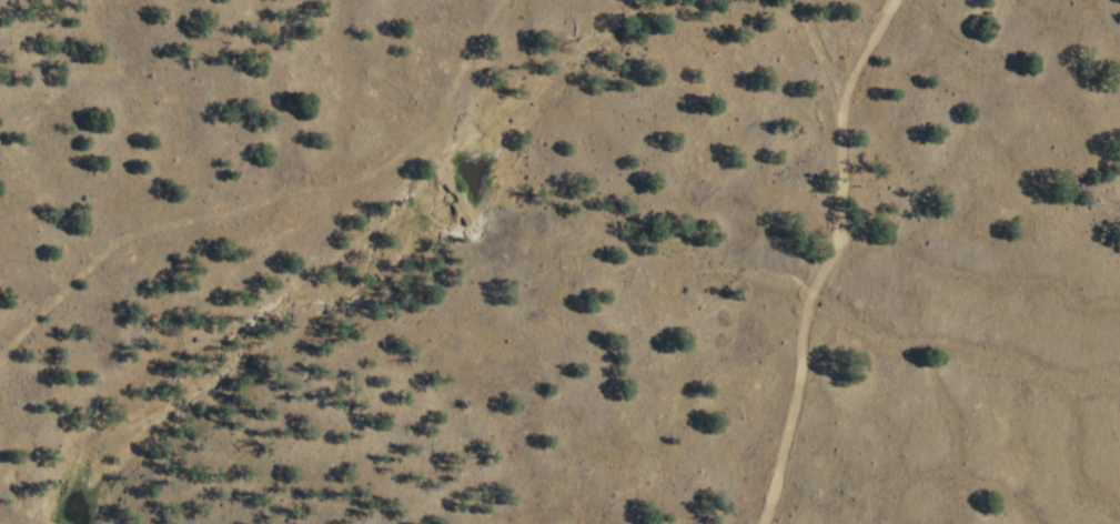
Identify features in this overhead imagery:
road: (828, 260)

